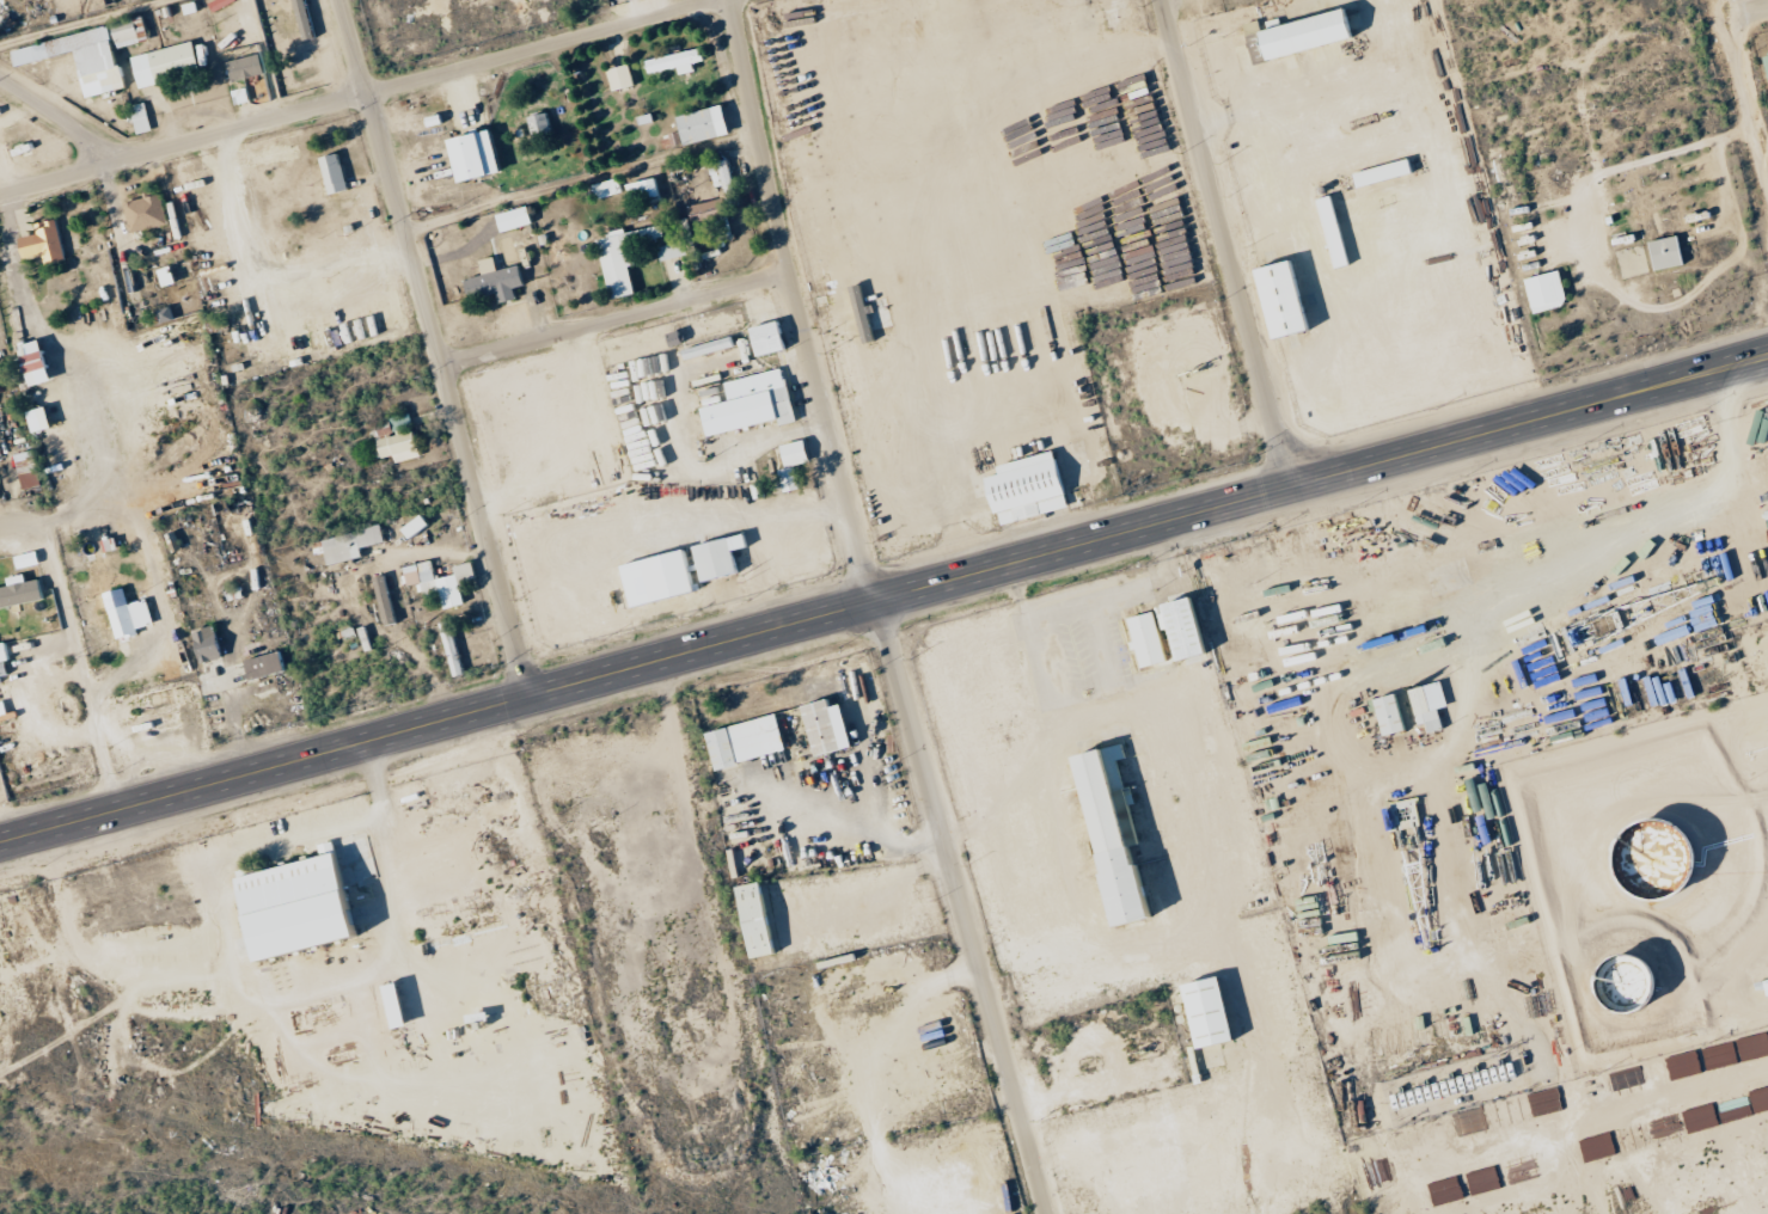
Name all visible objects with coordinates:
road: (1752, 12)
building: (127, 33)
building: (1299, 35)
building: (84, 59)
building: (678, 62)
building: (167, 65)
building: (247, 67)
road: (1750, 68)
building: (1764, 69)
building: (623, 78)
building: (241, 96)
road: (354, 97)
road: (67, 116)
building: (141, 118)
building: (540, 124)
building: (705, 125)
building: (481, 157)
building: (1378, 172)
building: (336, 174)
building: (607, 189)
building: (644, 190)
building: (729, 191)
building: (147, 213)
building: (516, 219)
building: (45, 244)
road: (1225, 245)
building: (672, 251)
building: (1662, 252)
building: (625, 257)
building: (497, 282)
building: (1540, 290)
building: (1275, 299)
building: (864, 314)
road: (614, 318)
building: (771, 338)
road: (435, 349)
building: (38, 363)
building: (753, 404)
building: (42, 419)
road: (751, 446)
building: (402, 447)
building: (795, 465)
building: (31, 470)
building: (1020, 488)
road: (13, 525)
building: (418, 527)
building: (353, 545)
building: (722, 558)
building: (27, 559)
building: (662, 578)
building: (441, 582)
building: (20, 591)
road: (1095, 591)
building: (387, 601)
road: (883, 602)
road: (880, 609)
building: (131, 619)
building: (1174, 629)
building: (1140, 639)
building: (209, 644)
building: (4, 658)
building: (267, 666)
building: (1424, 704)
building: (1384, 713)
building: (819, 726)
building: (739, 741)
building: (1099, 828)
building: (305, 907)
building: (747, 920)
building: (1764, 987)
building: (399, 1006)
building: (1199, 1012)
building: (1451, 1026)

